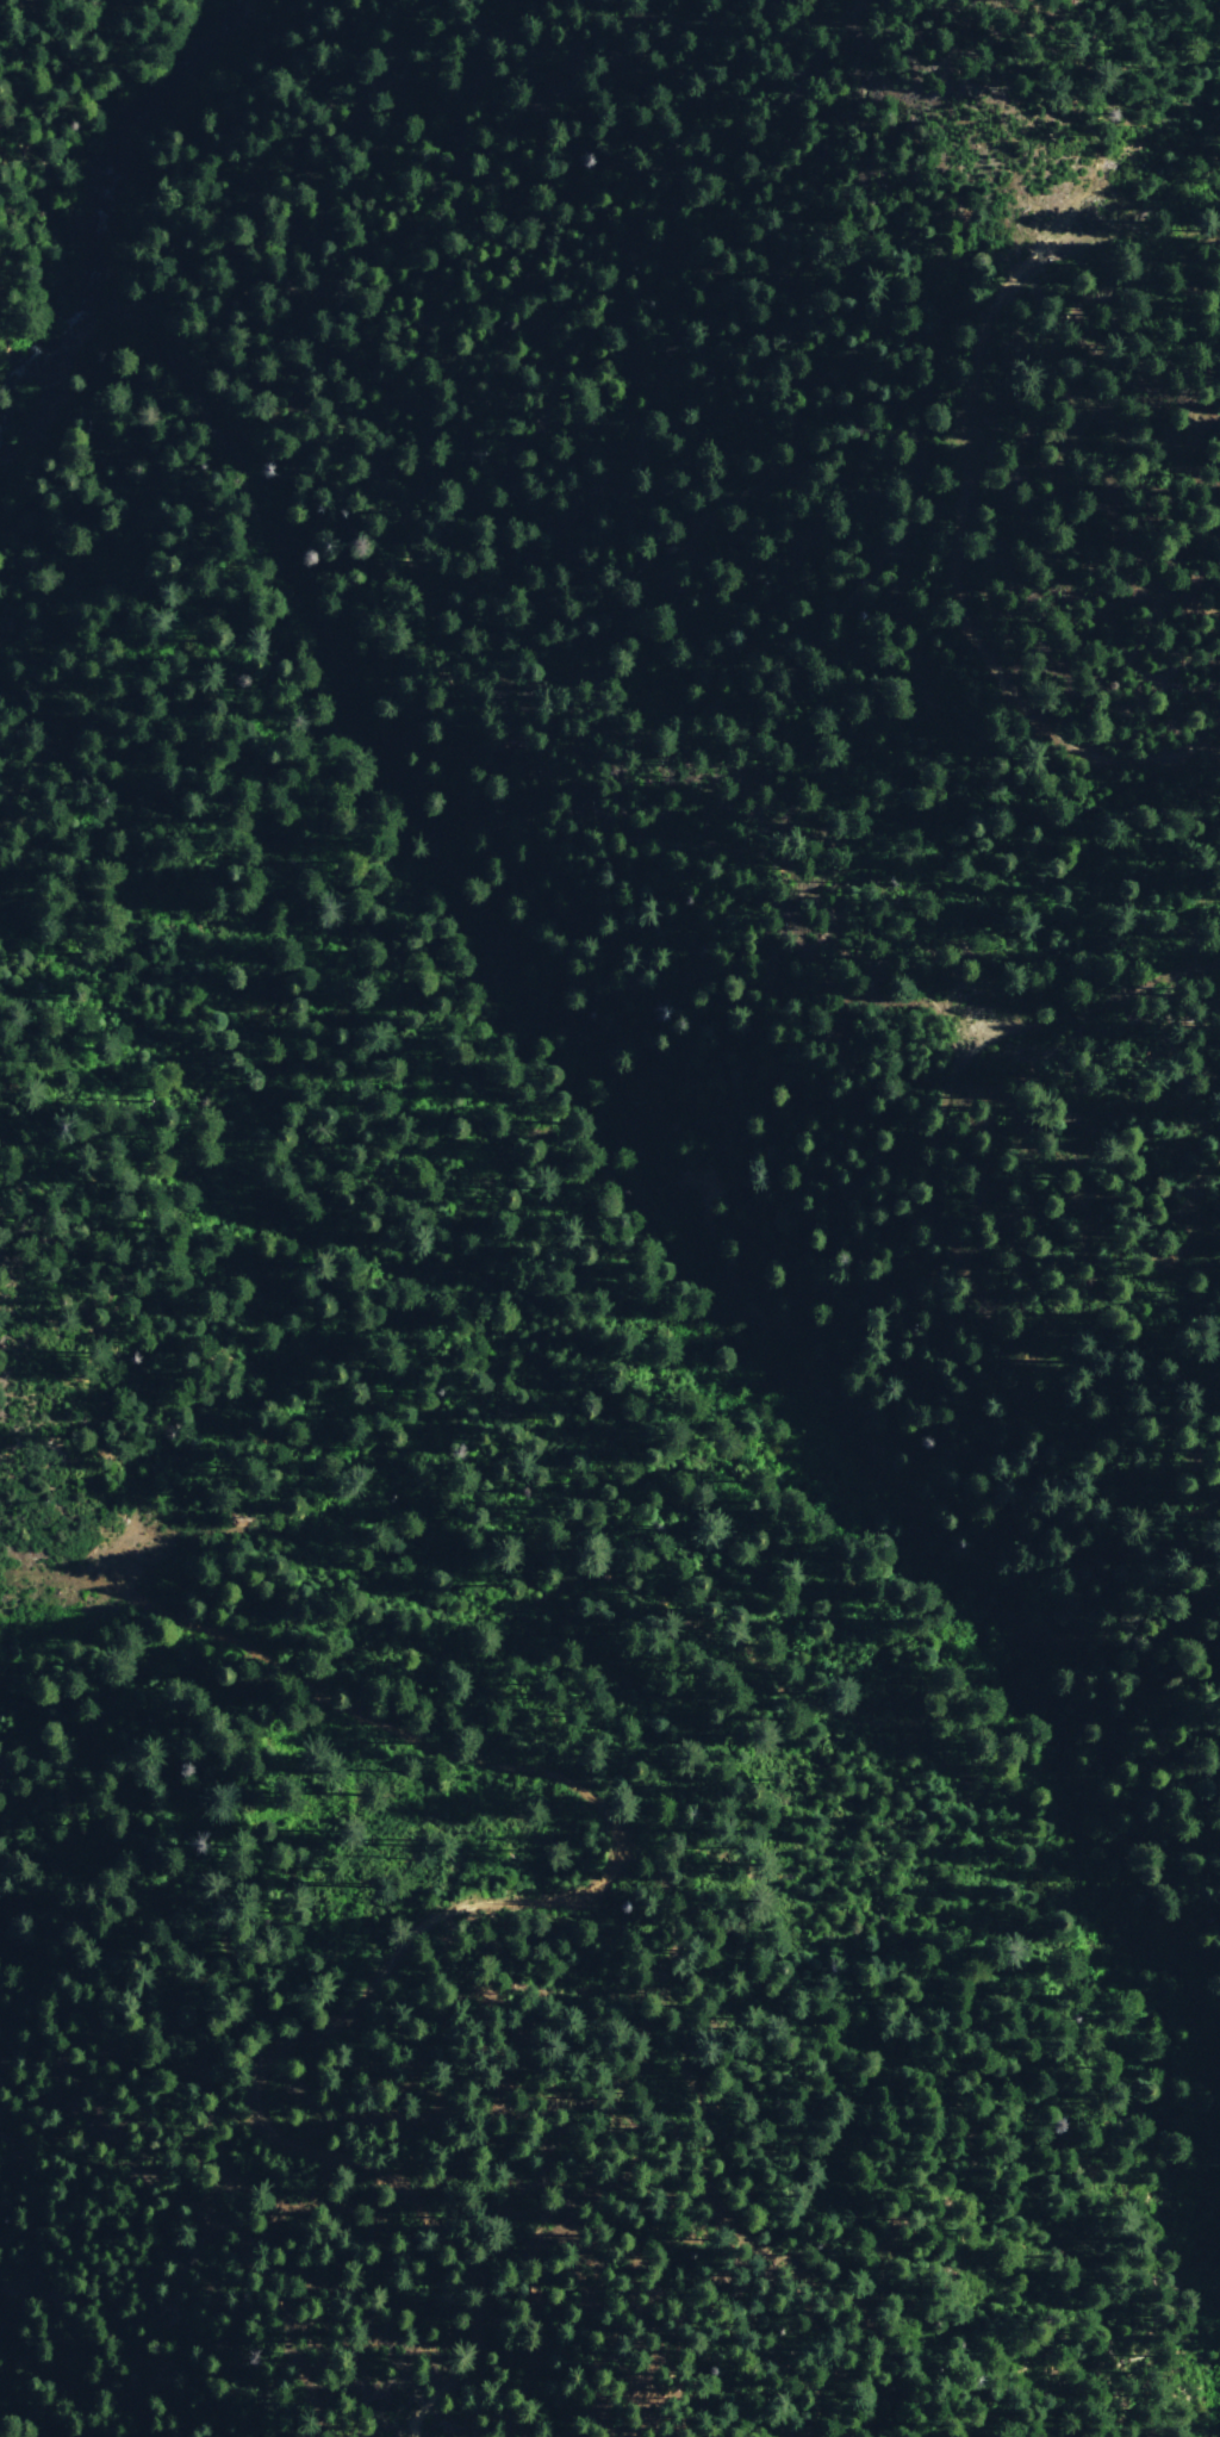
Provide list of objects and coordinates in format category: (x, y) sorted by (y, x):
river: (104, 204)
road: (948, 558)
road: (1071, 1006)

